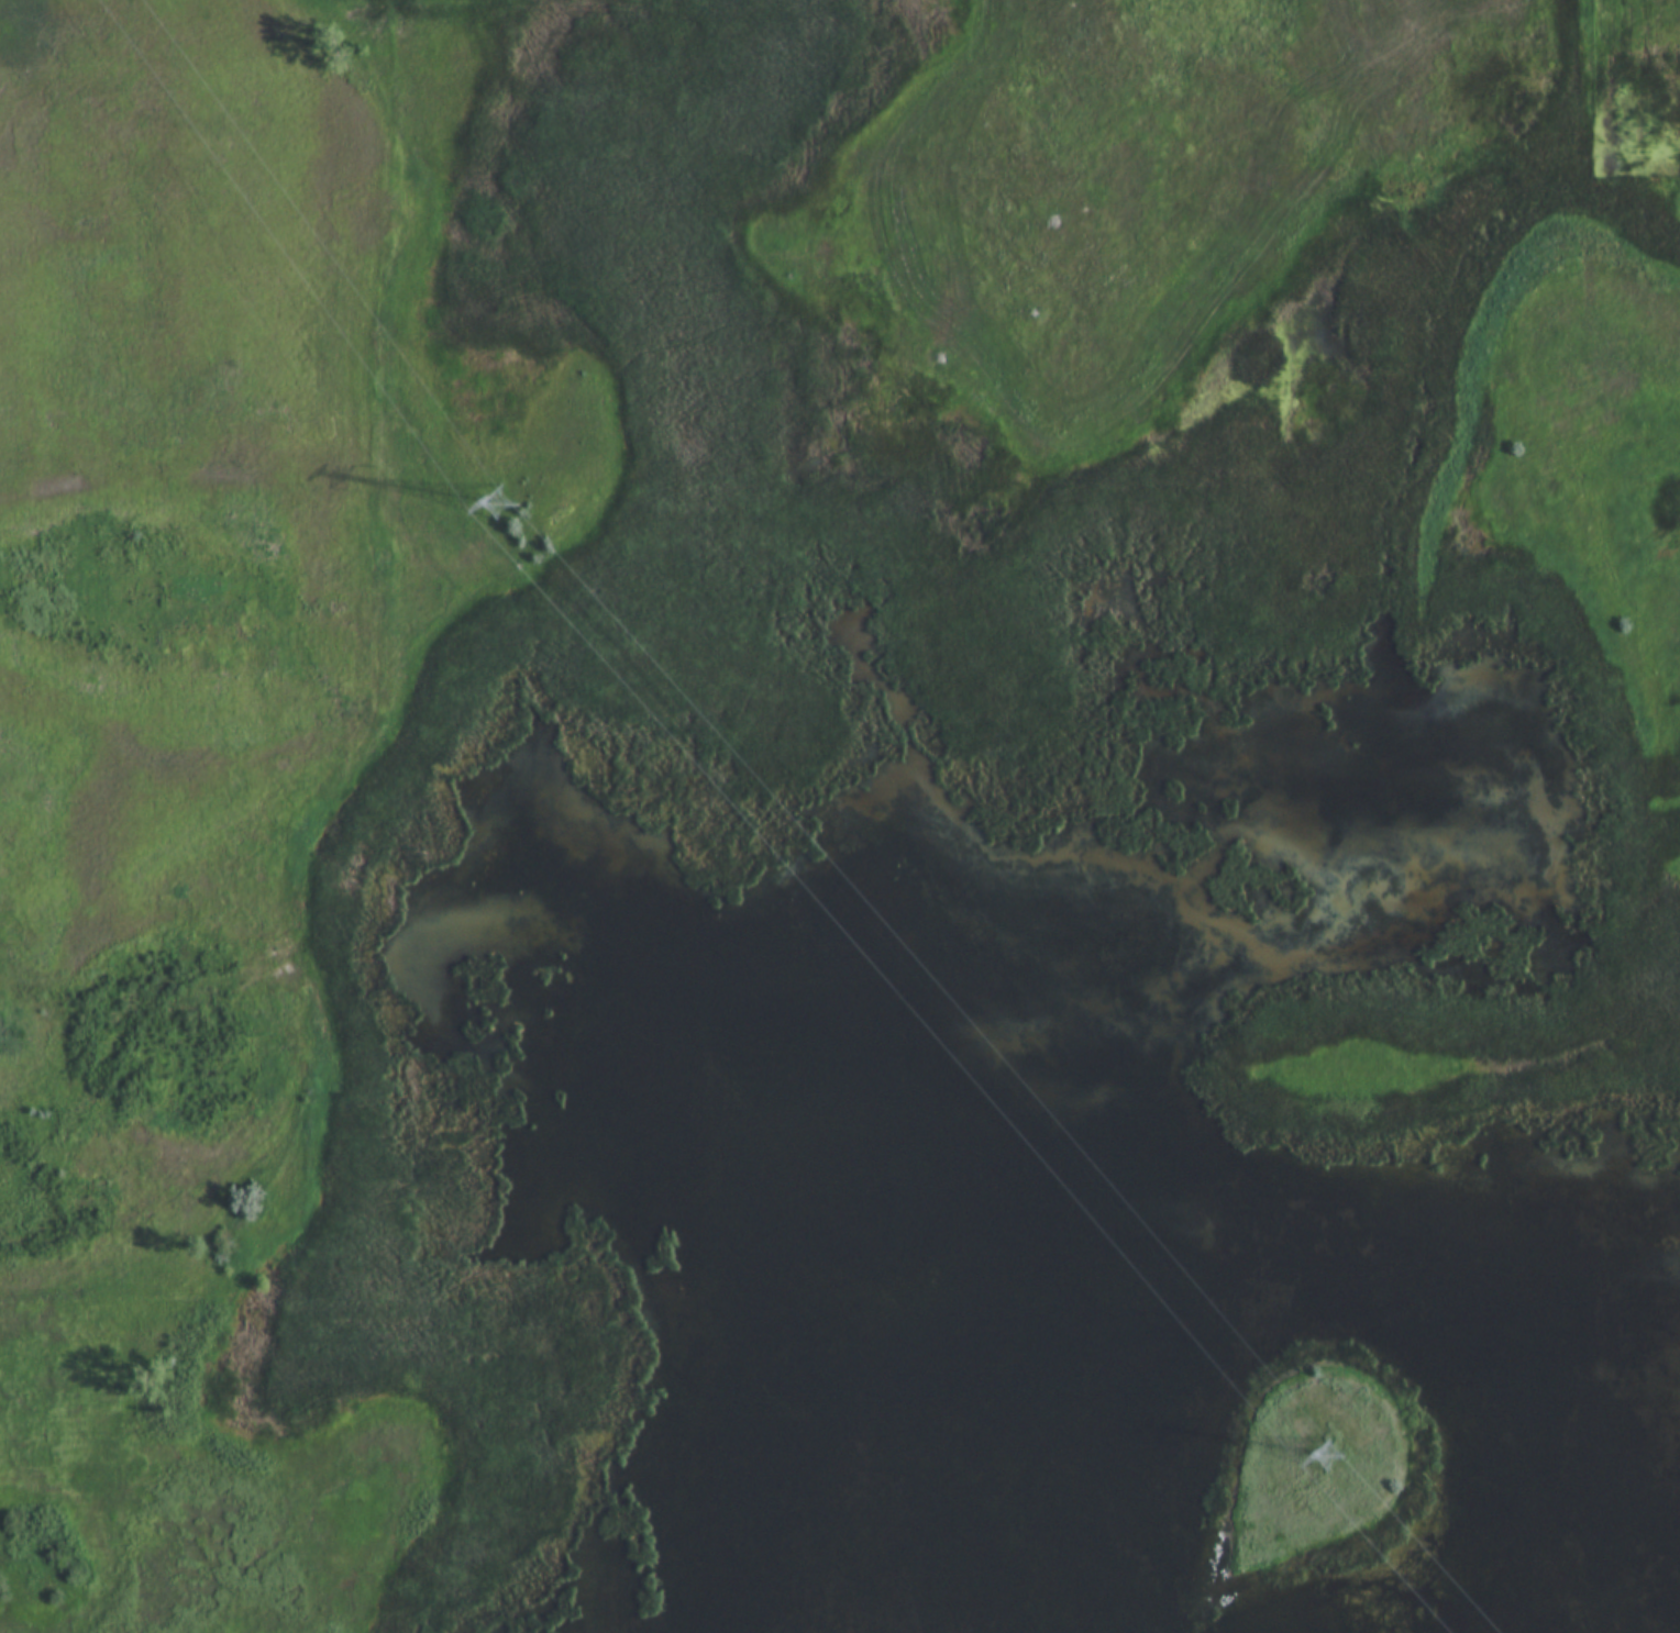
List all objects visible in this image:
road: (1416, 19)
power tower: (504, 511)
power tower: (1333, 1464)

